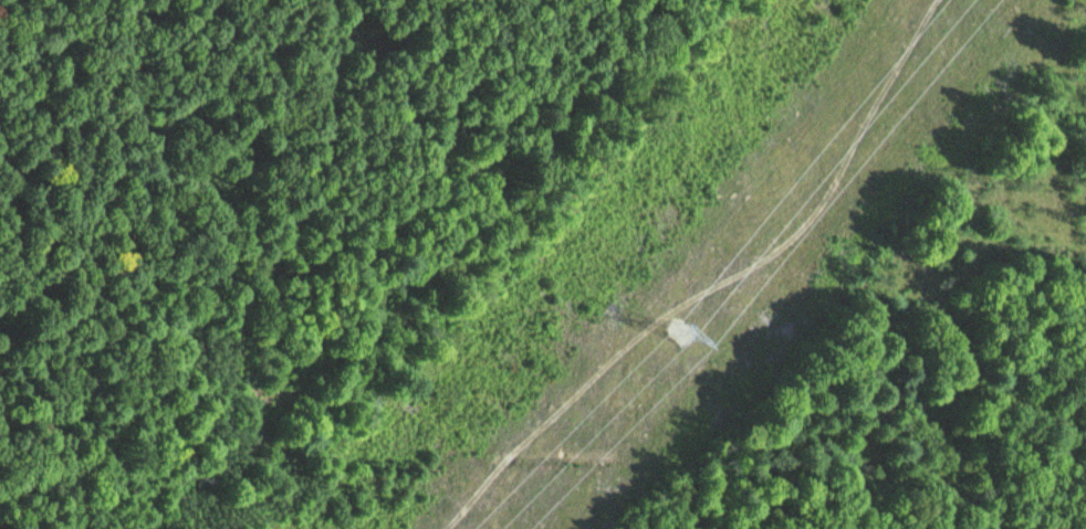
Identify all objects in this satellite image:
power tower: (681, 332)

